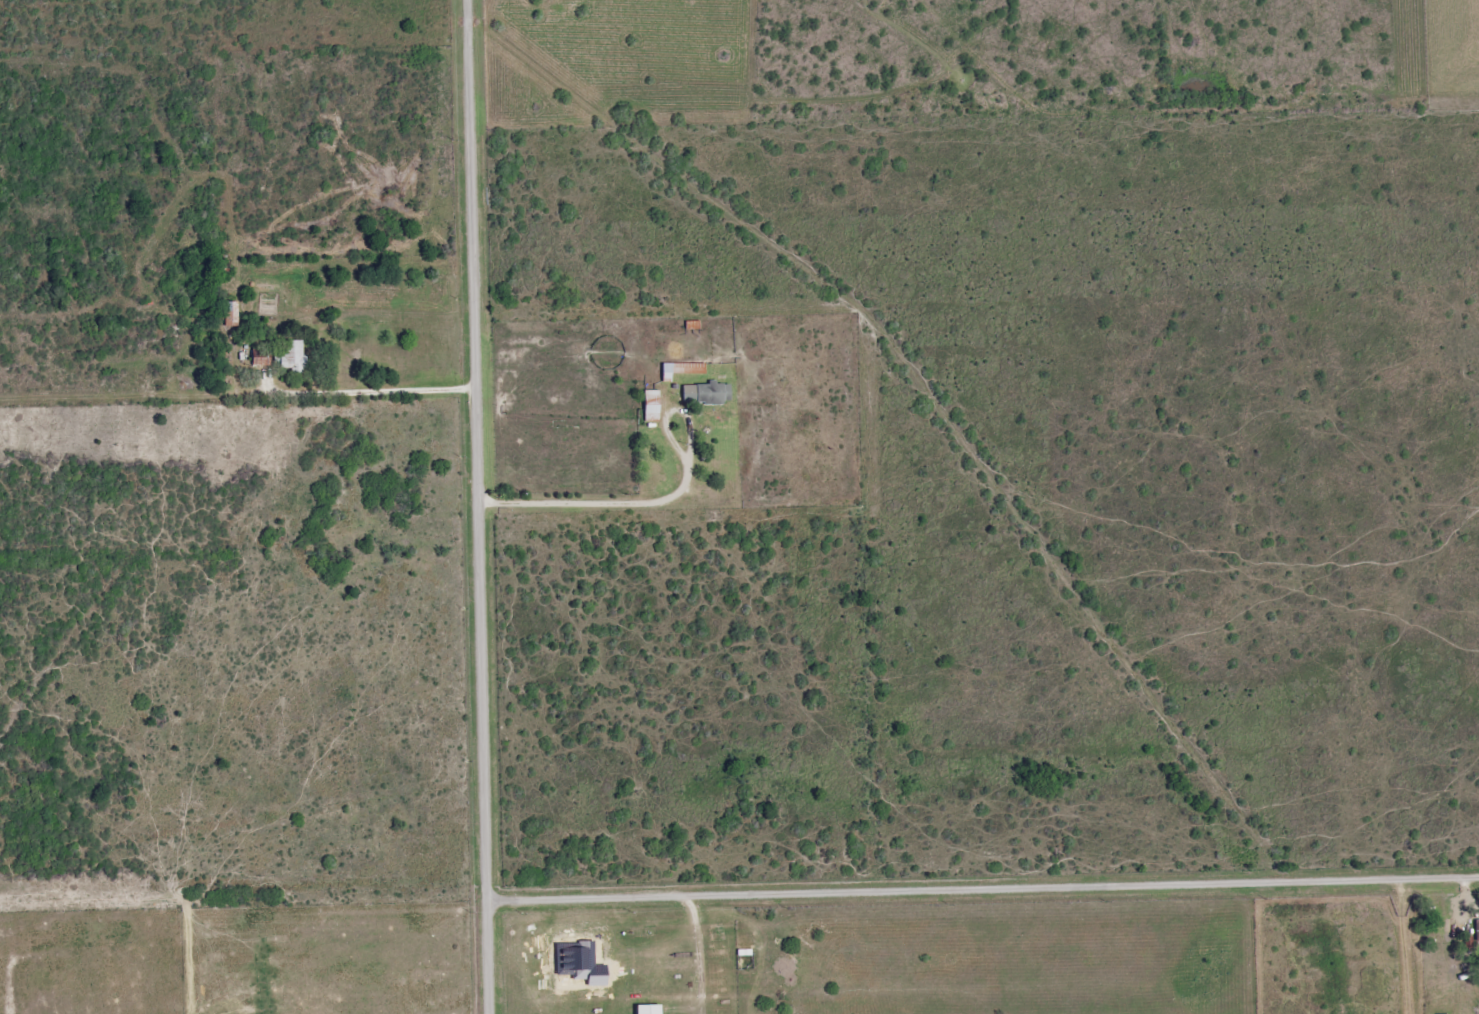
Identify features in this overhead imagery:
building: (230, 314)
building: (292, 356)
building: (260, 358)
building: (699, 369)
building: (672, 371)
building: (705, 393)
building: (651, 406)
road: (480, 506)
road: (983, 884)
building: (1477, 931)
building: (647, 1010)

